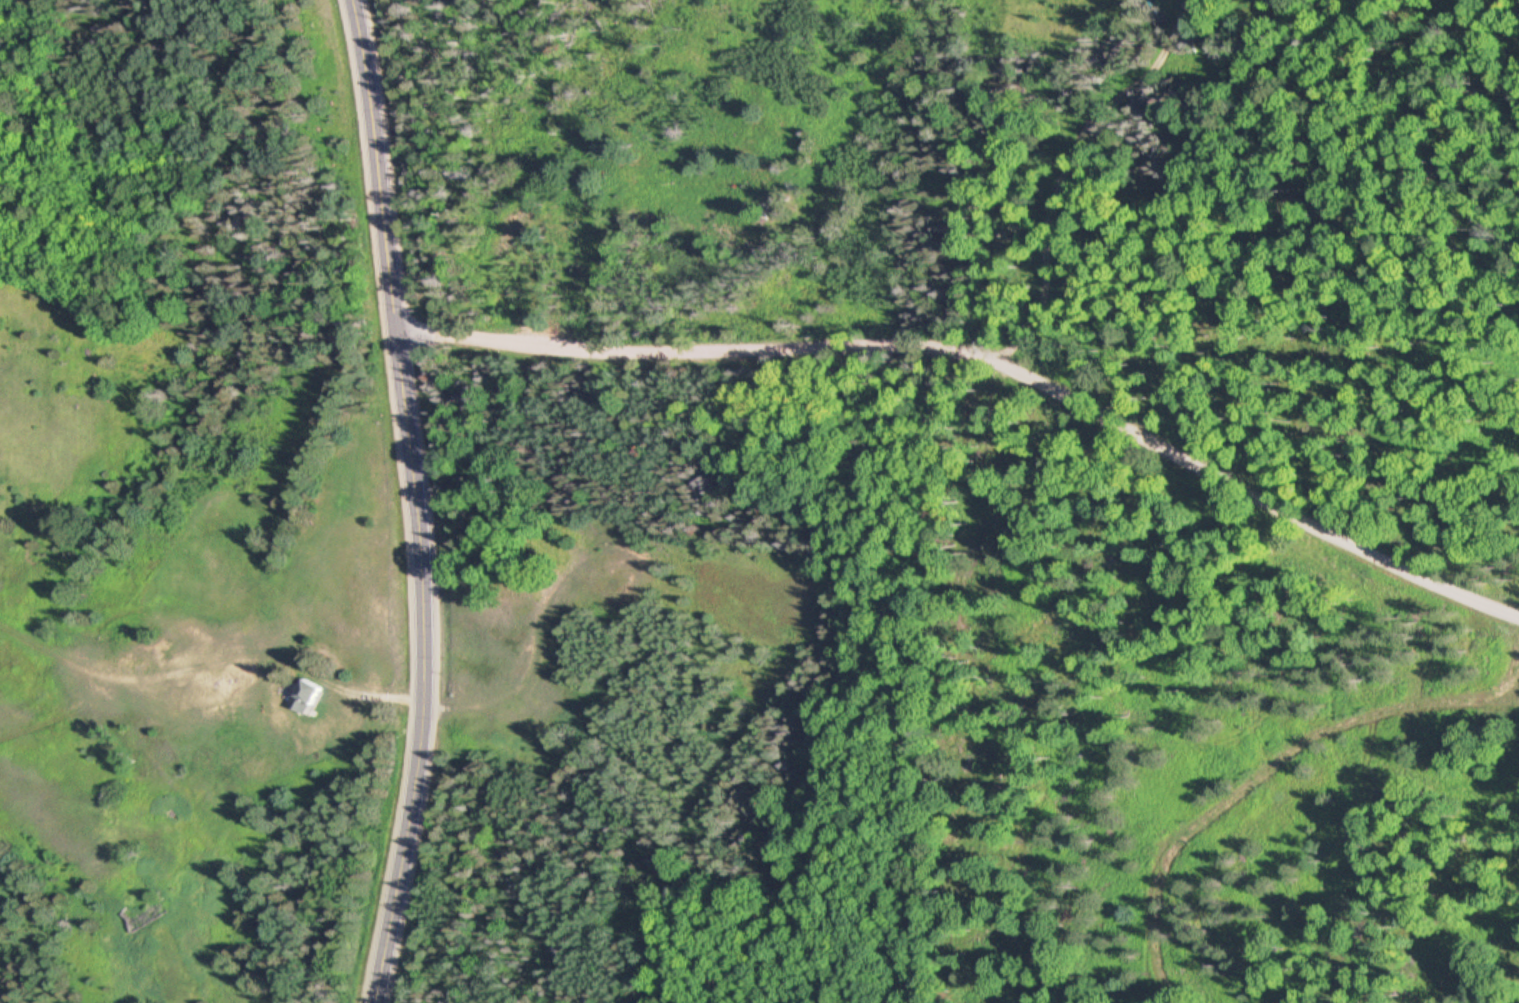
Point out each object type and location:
road: (1084, 151)
road: (992, 335)
road: (417, 502)
road: (275, 655)
building: (310, 699)

